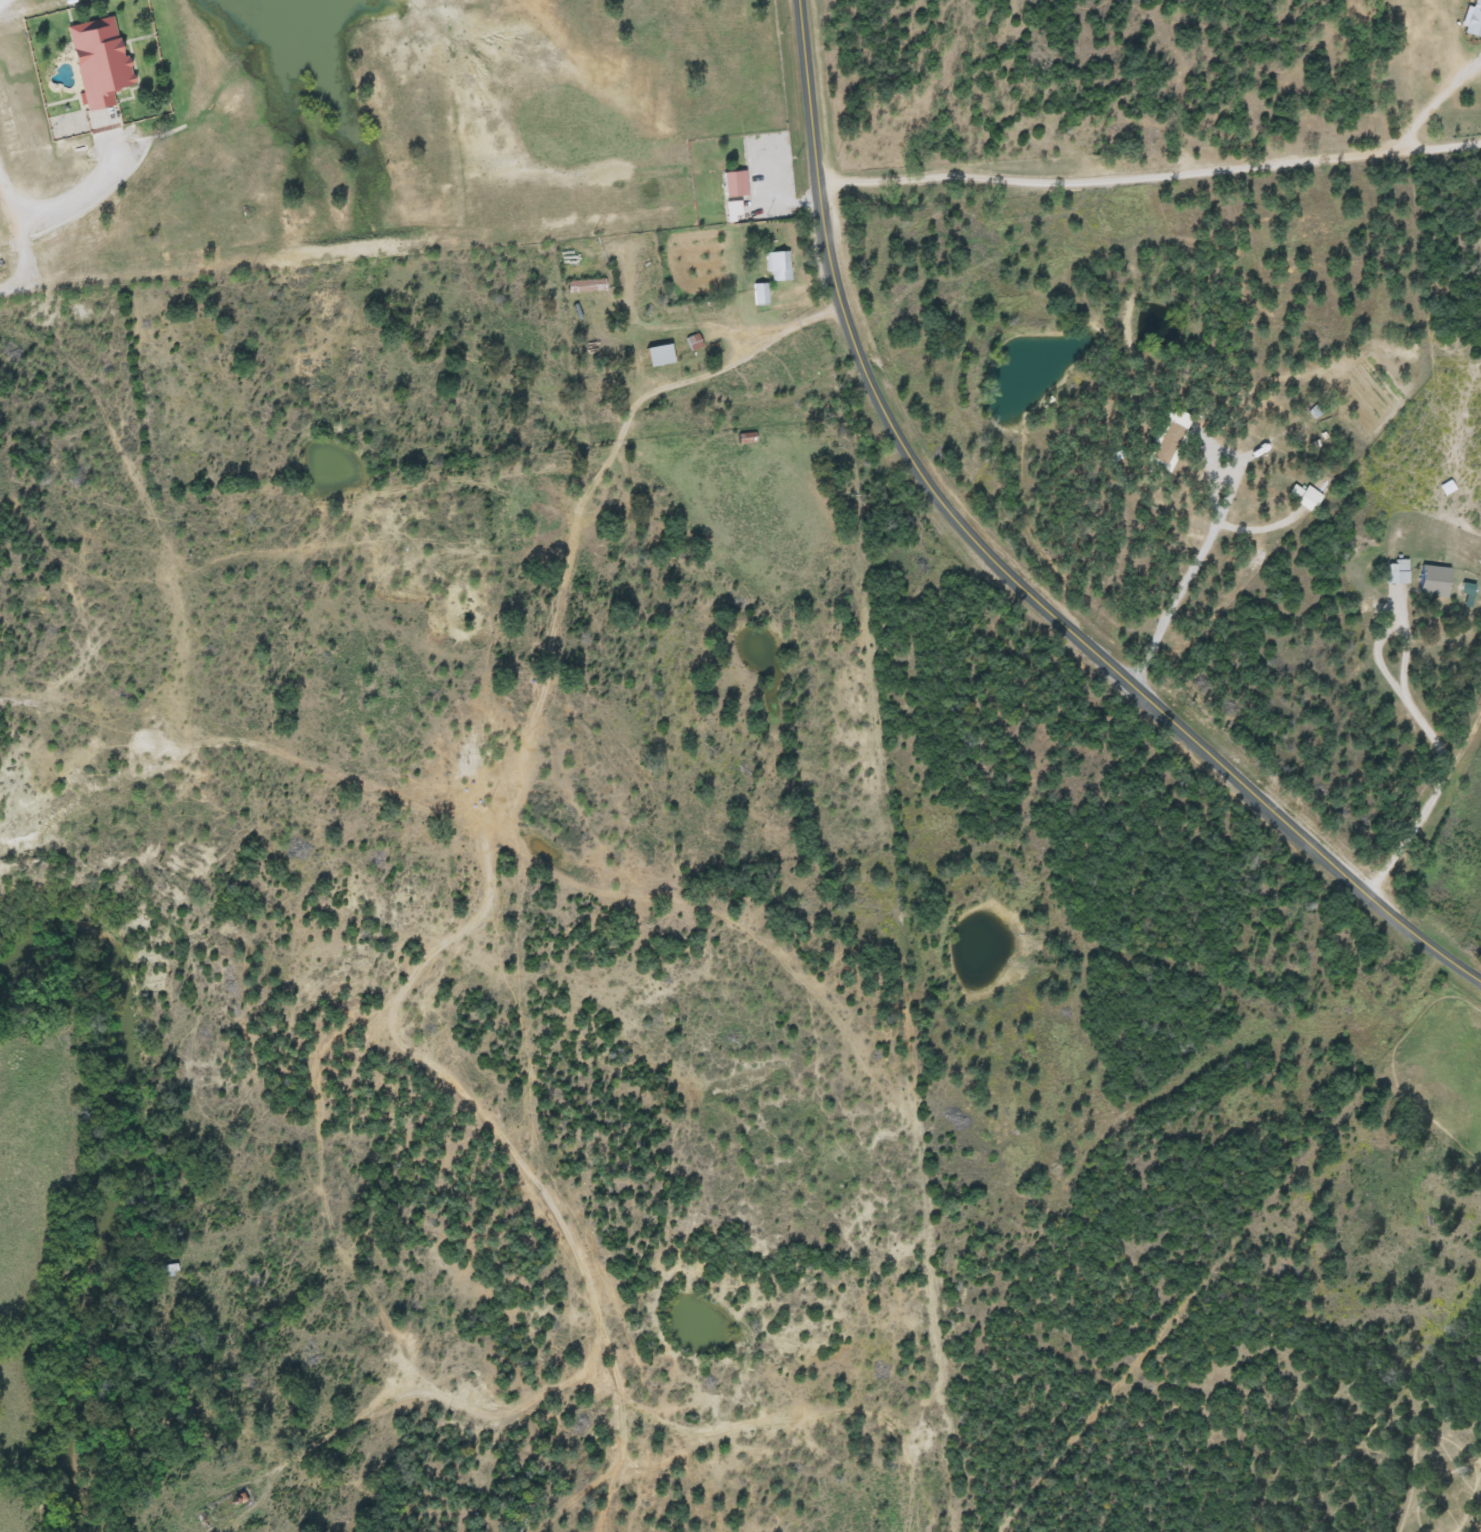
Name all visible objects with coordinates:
building: (1474, 20)
building: (100, 61)
road: (1428, 147)
building: (736, 184)
road: (1028, 184)
building: (778, 266)
building: (587, 287)
building: (760, 295)
road: (750, 329)
building: (694, 343)
building: (660, 356)
building: (746, 438)
building: (1170, 438)
building: (1304, 498)
road: (1007, 570)
building: (1397, 577)
building: (1434, 582)
road: (1168, 608)
road: (1424, 723)
road: (332, 771)
road: (473, 922)
road: (365, 1295)

